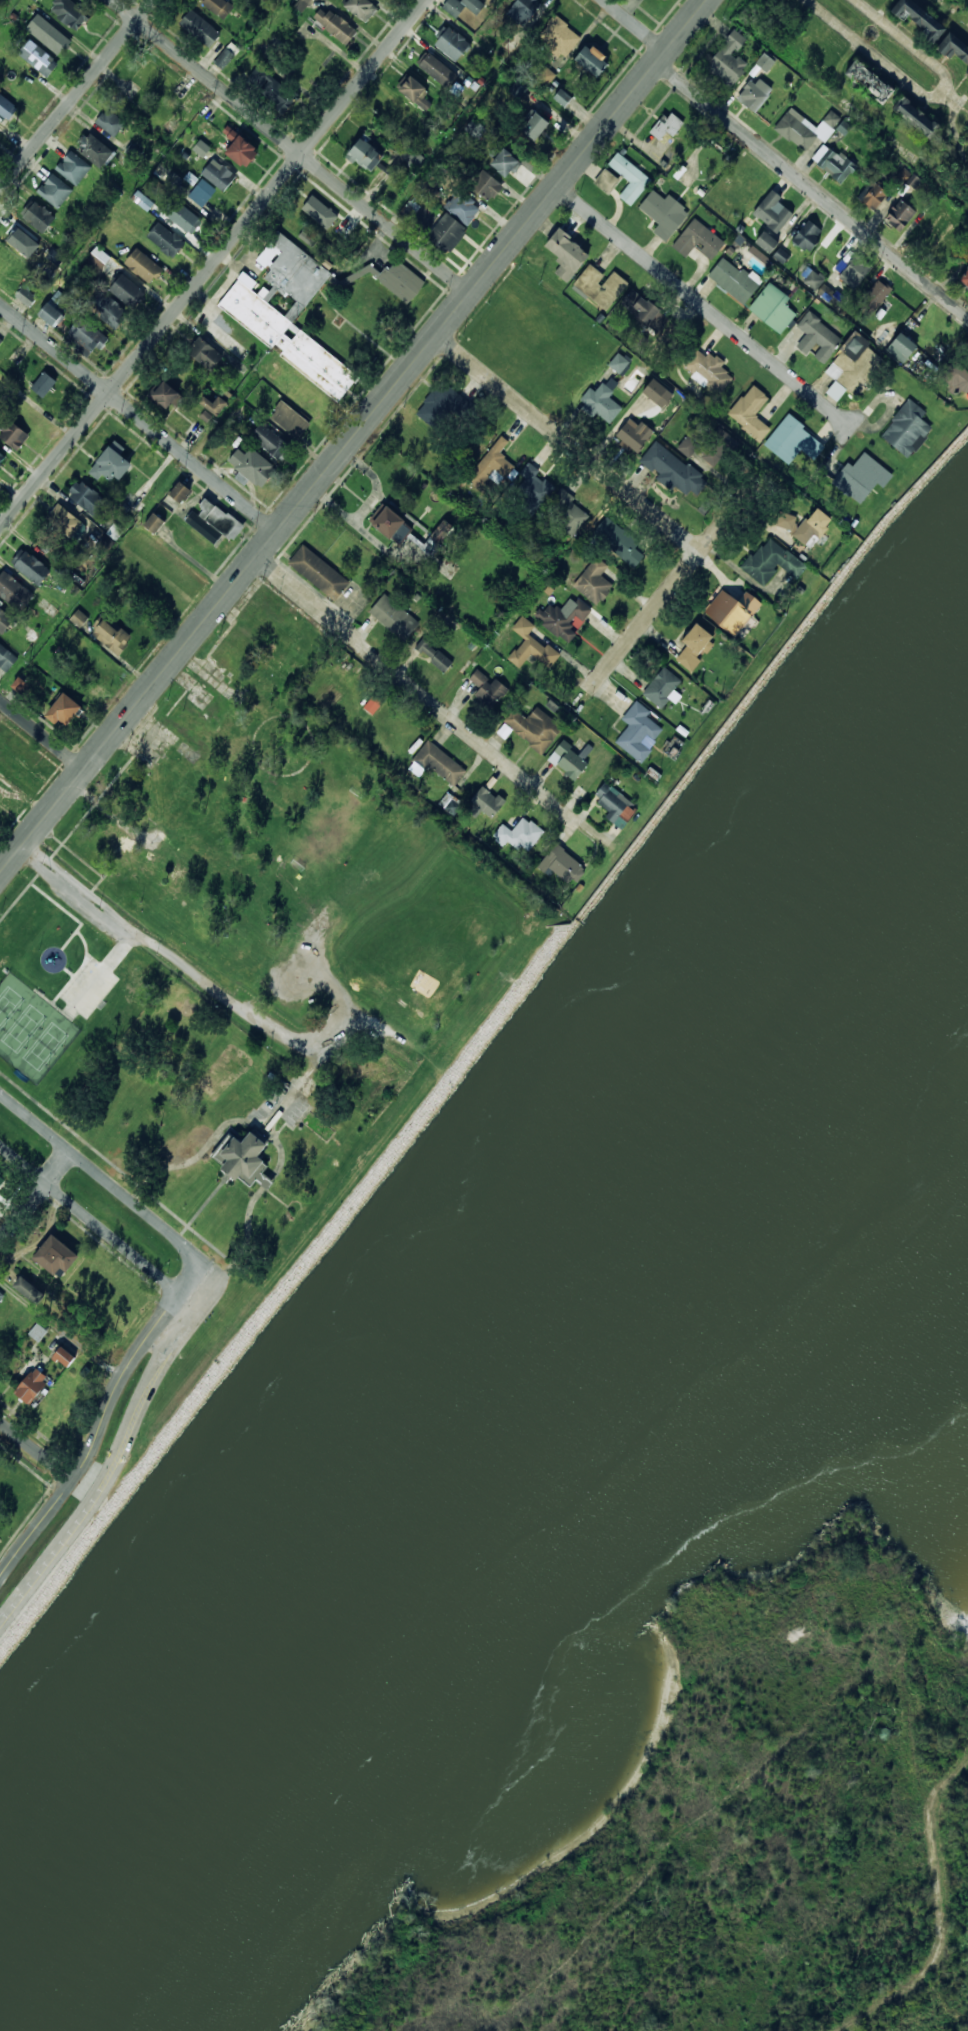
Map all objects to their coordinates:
building: (36, 0)
building: (663, 0)
building: (300, 4)
building: (463, 6)
building: (221, 7)
building: (363, 7)
building: (522, 10)
building: (70, 12)
building: (336, 24)
road: (635, 25)
building: (201, 28)
building: (931, 32)
building: (49, 34)
building: (559, 35)
building: (454, 44)
road: (898, 54)
building: (38, 58)
building: (225, 58)
building: (593, 59)
building: (727, 61)
building: (765, 62)
building: (438, 70)
building: (966, 75)
building: (546, 76)
building: (154, 78)
building: (868, 82)
building: (272, 88)
building: (518, 88)
building: (417, 91)
road: (76, 94)
building: (753, 95)
building: (566, 98)
building: (7, 106)
building: (397, 113)
building: (914, 120)
building: (110, 122)
building: (537, 125)
building: (665, 127)
building: (1, 129)
building: (476, 129)
building: (795, 131)
building: (231, 132)
road: (291, 146)
building: (201, 147)
building: (95, 149)
building: (245, 151)
building: (366, 154)
building: (409, 155)
building: (507, 161)
building: (73, 167)
building: (836, 167)
building: (219, 174)
building: (907, 177)
building: (628, 178)
building: (605, 180)
building: (487, 184)
road: (812, 189)
building: (55, 191)
building: (203, 193)
building: (871, 196)
building: (142, 200)
building: (464, 207)
building: (772, 211)
building: (325, 214)
building: (662, 214)
building: (898, 216)
building: (41, 217)
building: (184, 218)
building: (448, 232)
building: (806, 236)
building: (166, 239)
building: (25, 240)
building: (697, 241)
building: (764, 243)
building: (564, 255)
building: (100, 257)
building: (5, 261)
road: (213, 264)
building: (144, 265)
building: (852, 273)
building: (967, 276)
building: (402, 281)
building: (732, 281)
building: (599, 287)
building: (128, 291)
building: (28, 296)
building: (873, 298)
road: (699, 303)
building: (109, 310)
building: (772, 310)
building: (643, 312)
building: (51, 313)
building: (290, 315)
building: (89, 335)
building: (817, 339)
building: (1, 340)
building: (895, 346)
building: (853, 347)
building: (206, 354)
building: (619, 363)
building: (707, 371)
building: (955, 378)
building: (44, 383)
building: (834, 392)
building: (658, 393)
building: (165, 395)
building: (308, 400)
building: (601, 404)
building: (216, 405)
building: (446, 406)
building: (749, 413)
building: (207, 416)
road: (138, 418)
building: (290, 418)
building: (905, 430)
building: (14, 433)
building: (633, 436)
road: (353, 437)
building: (271, 441)
building: (792, 441)
road: (568, 444)
building: (688, 444)
building: (716, 448)
building: (2, 456)
building: (113, 464)
building: (254, 466)
building: (491, 467)
building: (669, 469)
building: (861, 478)
building: (534, 486)
building: (182, 492)
building: (89, 498)
building: (566, 510)
building: (65, 519)
building: (220, 519)
building: (785, 519)
building: (154, 523)
building: (391, 524)
building: (812, 525)
building: (203, 527)
building: (441, 531)
building: (618, 541)
building: (771, 561)
building: (33, 568)
building: (317, 573)
building: (593, 581)
road: (672, 586)
building: (15, 592)
building: (731, 610)
building: (274, 613)
building: (393, 616)
building: (78, 618)
building: (562, 618)
building: (5, 621)
building: (112, 636)
building: (531, 645)
building: (694, 646)
building: (426, 647)
building: (7, 657)
building: (440, 660)
building: (96, 663)
building: (230, 663)
building: (21, 685)
building: (662, 688)
building: (487, 689)
road: (418, 692)
building: (373, 703)
building: (66, 711)
building: (533, 727)
building: (638, 731)
road: (42, 734)
building: (569, 759)
building: (440, 763)
building: (485, 802)
building: (614, 804)
building: (519, 834)
building: (561, 864)
road: (23, 891)
road: (69, 913)
park: (252, 942)
road: (105, 968)
road: (78, 969)
road: (68, 972)
parking lot: (89, 988)
road: (220, 994)
park: (8, 1004)
road: (52, 1004)
park: (22, 1028)
park: (44, 1046)
parking lot: (281, 1106)
road: (279, 1109)
road: (265, 1130)
building: (245, 1156)
building: (3, 1177)
road: (109, 1183)
road: (35, 1195)
road: (201, 1207)
road: (98, 1225)
road: (187, 1226)
building: (55, 1255)
building: (29, 1290)
building: (1, 1296)
road: (61, 1329)
building: (37, 1332)
building: (66, 1357)
building: (34, 1384)
road: (102, 1420)
road: (37, 1448)
road: (117, 1454)

